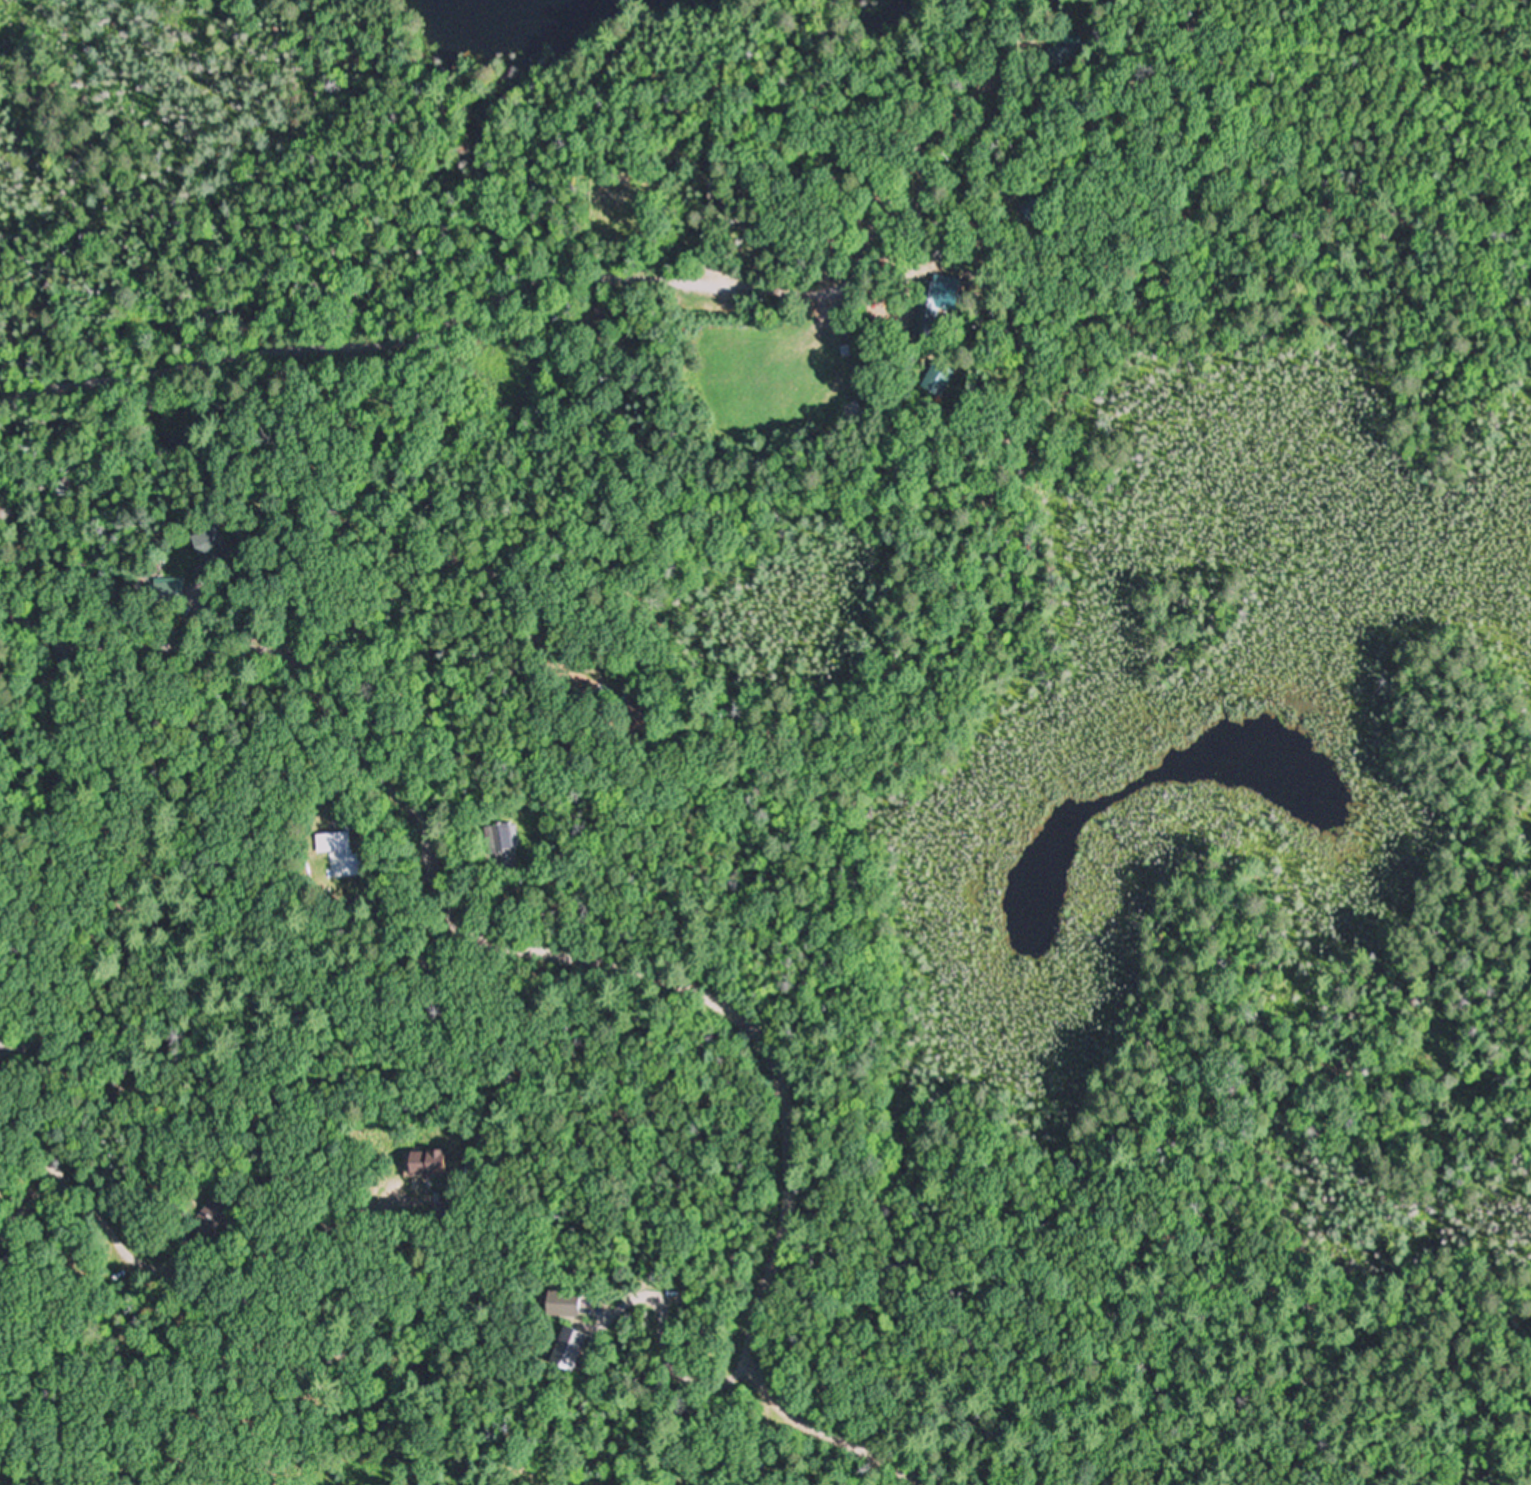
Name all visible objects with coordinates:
building: (586, 20)
building: (1074, 53)
building: (936, 379)
building: (212, 545)
building: (172, 591)
road: (477, 641)
road: (65, 652)
road: (32, 662)
building: (639, 710)
building: (512, 847)
building: (355, 852)
road: (43, 931)
road: (585, 956)
building: (440, 1161)
building: (222, 1213)
building: (559, 1305)
building: (564, 1347)

